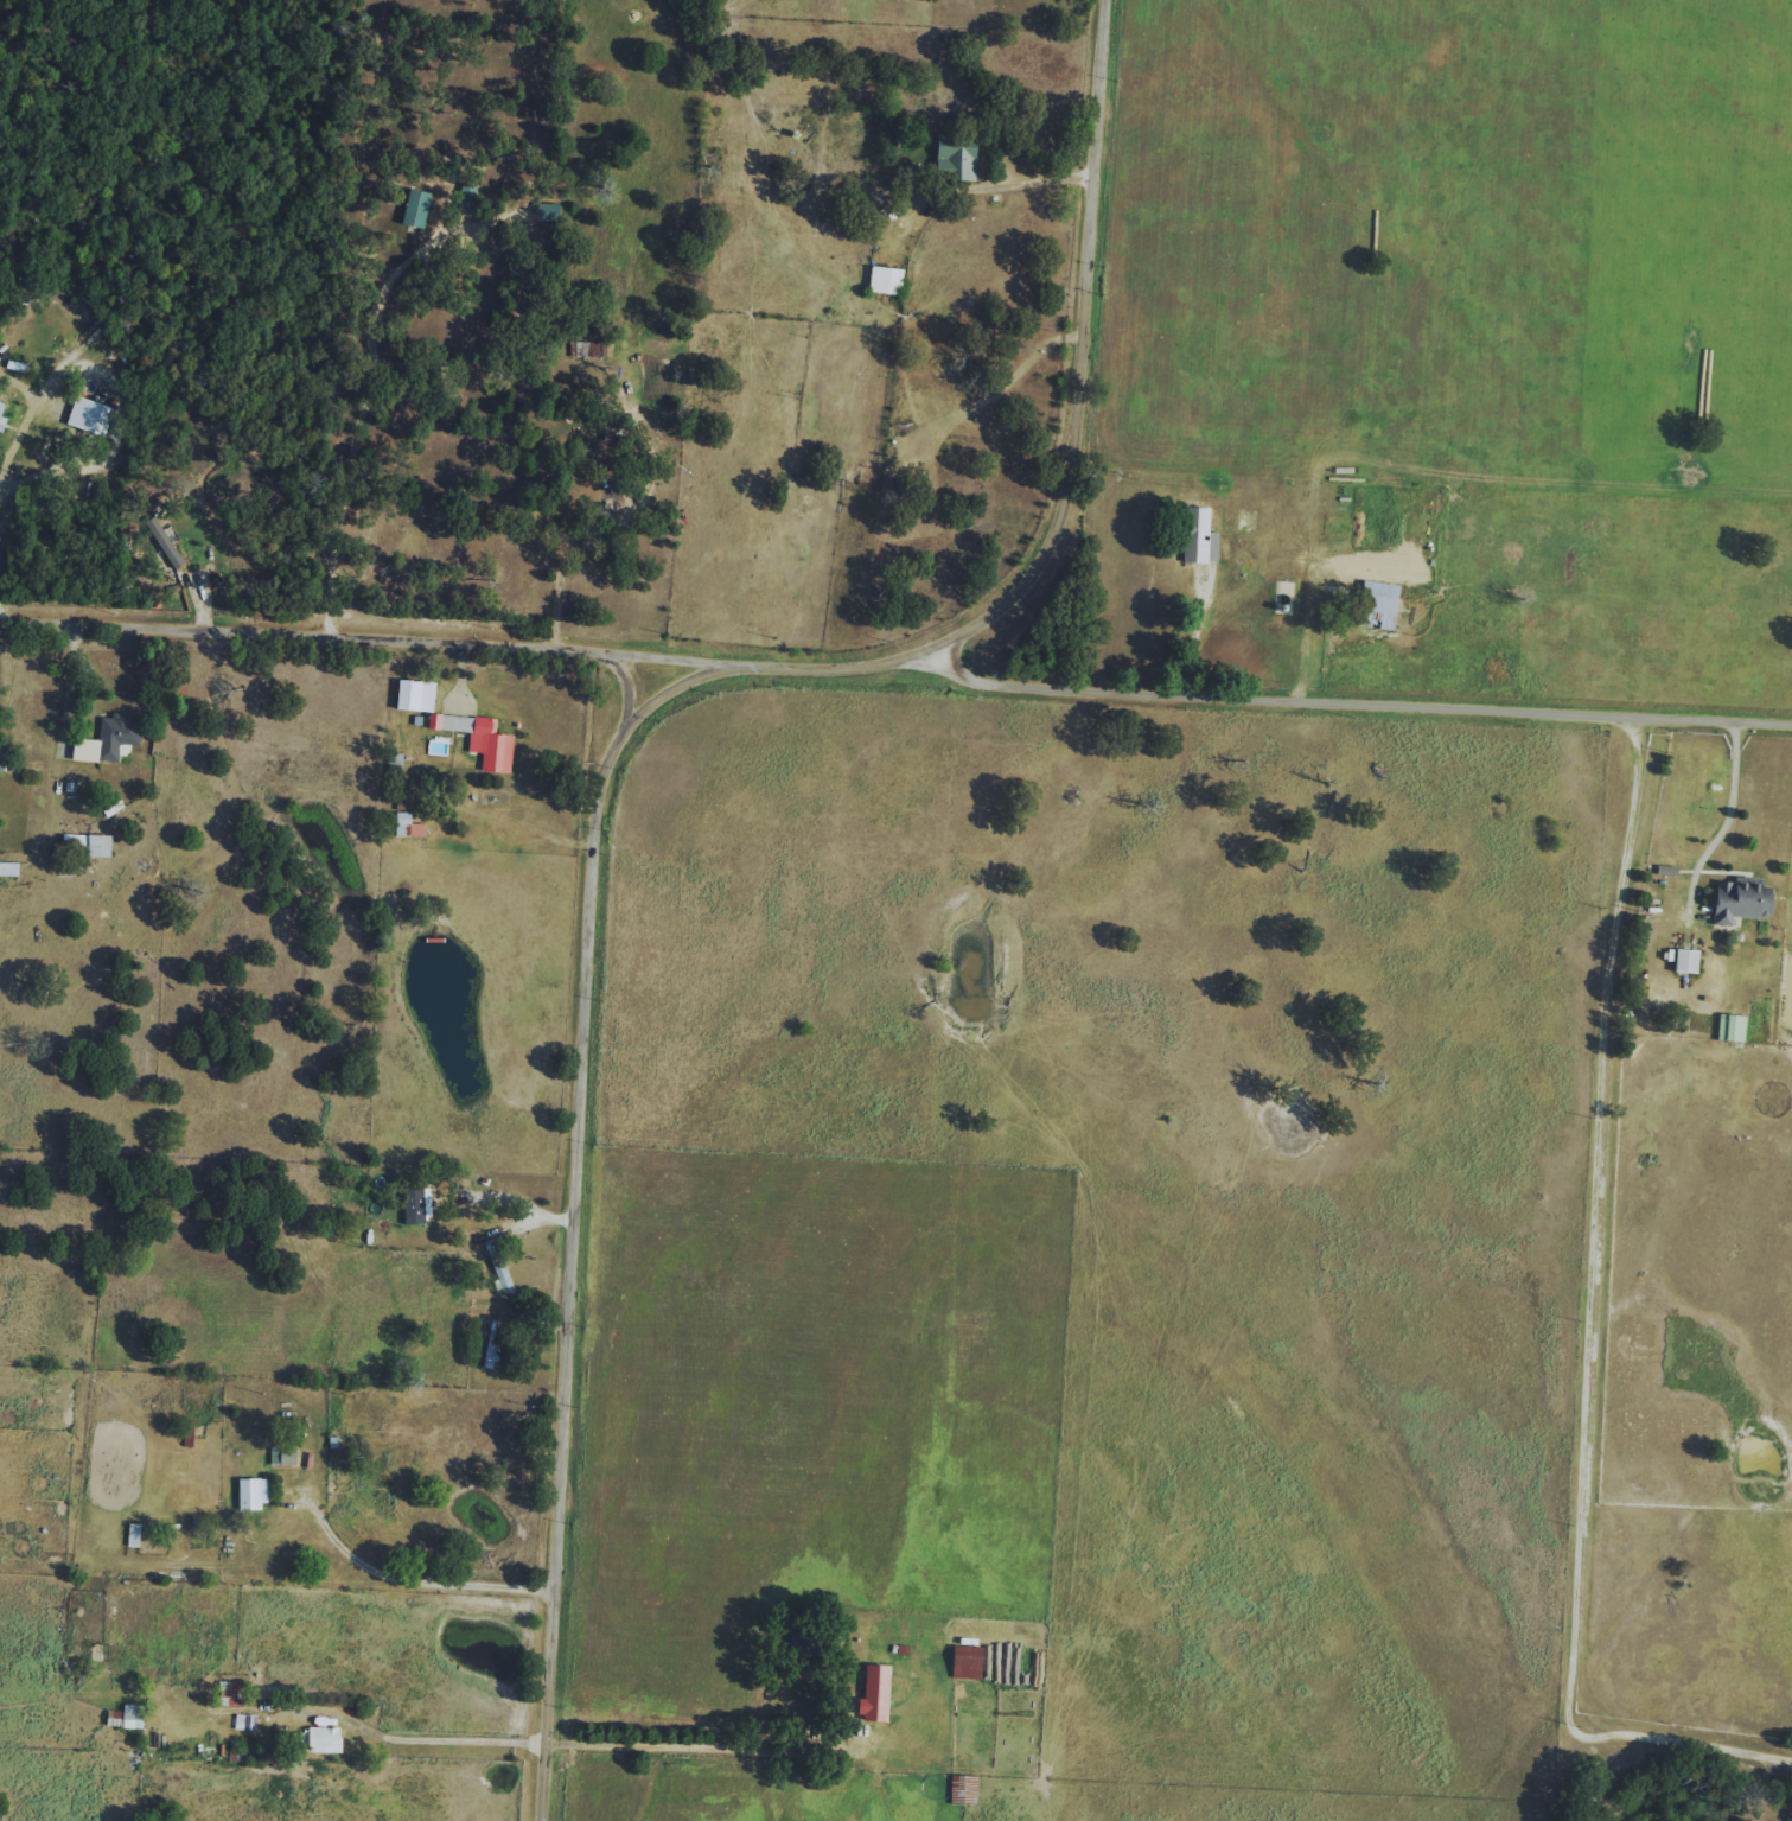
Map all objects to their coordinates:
building: (951, 154)
road: (1052, 174)
building: (465, 196)
building: (410, 209)
building: (881, 281)
building: (586, 349)
building: (2, 415)
building: (91, 415)
road: (15, 439)
road: (351, 448)
building: (1197, 535)
building: (165, 542)
road: (585, 553)
building: (1376, 600)
road: (1212, 632)
road: (349, 651)
building: (419, 695)
road: (1378, 705)
building: (480, 738)
building: (110, 739)
road: (650, 764)
road: (1736, 791)
building: (409, 826)
building: (77, 843)
building: (102, 846)
building: (9, 868)
building: (1737, 899)
building: (1683, 960)
building: (1729, 1027)
road: (521, 1203)
building: (415, 1206)
building: (499, 1266)
road: (1599, 1322)
building: (285, 1457)
building: (255, 1494)
road: (417, 1577)
building: (964, 1662)
building: (231, 1694)
building: (872, 1694)
building: (127, 1717)
building: (245, 1723)
road: (377, 1733)
building: (318, 1740)
road: (688, 1744)

